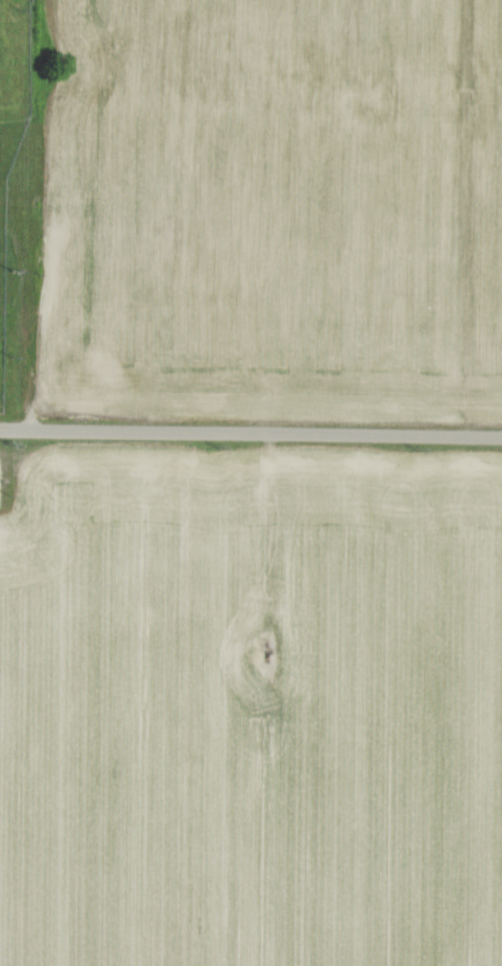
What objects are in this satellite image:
road: (251, 434)
road: (274, 550)

